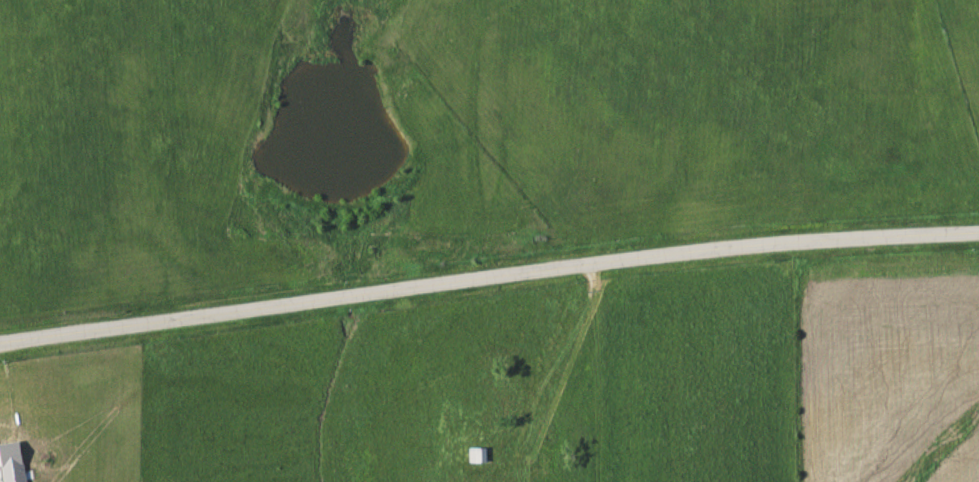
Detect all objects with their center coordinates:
road: (488, 278)
building: (476, 453)

